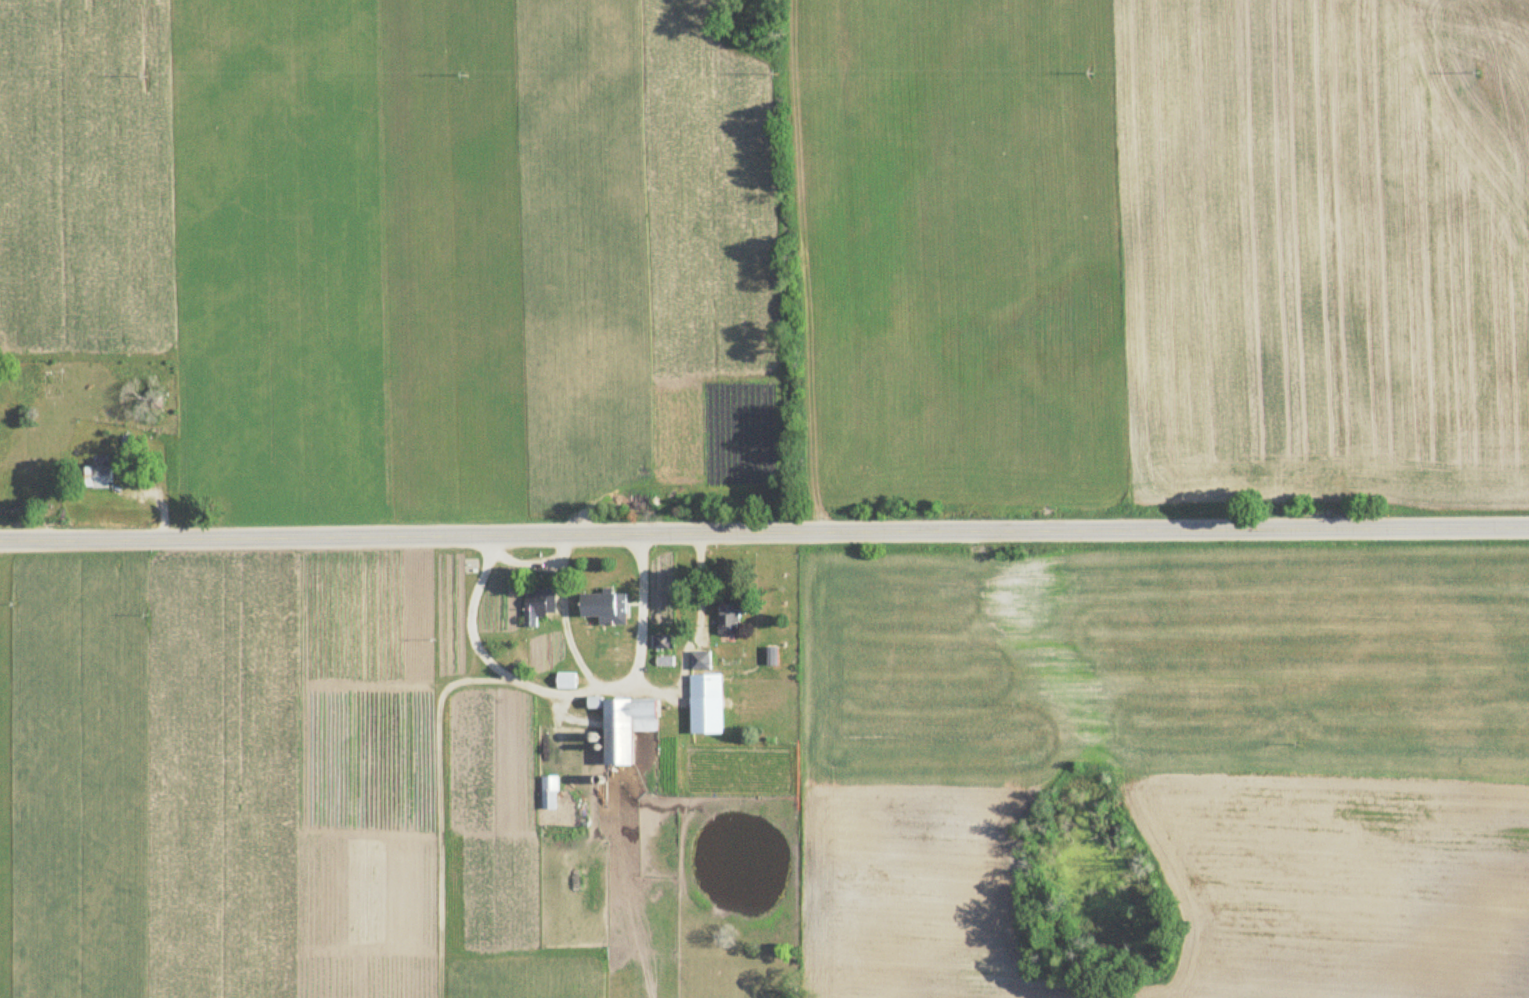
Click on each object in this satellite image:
building: (96, 476)
road: (764, 529)
building: (604, 605)
building: (533, 610)
building: (730, 618)
building: (624, 724)
building: (548, 792)

